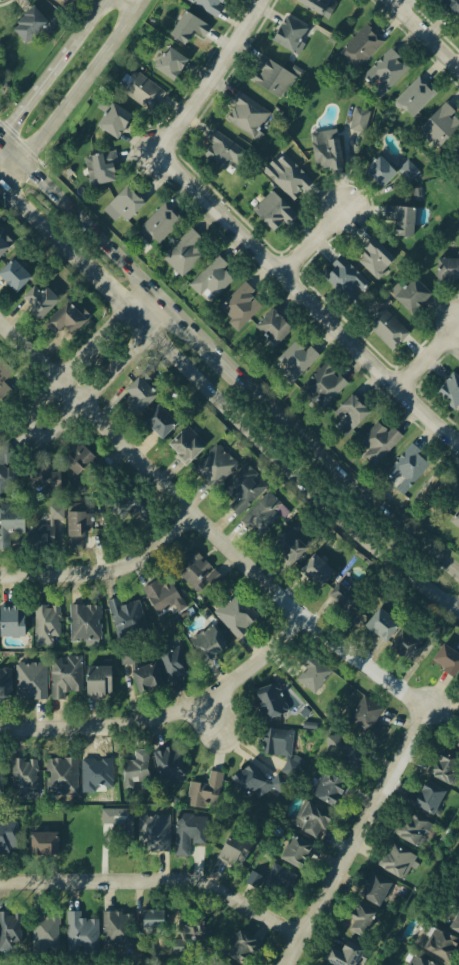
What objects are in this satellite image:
building: (209, 5)
building: (314, 5)
building: (451, 5)
building: (185, 24)
building: (25, 25)
road: (427, 31)
building: (287, 32)
building: (365, 47)
building: (164, 61)
road: (53, 70)
road: (216, 75)
building: (390, 76)
building: (272, 77)
road: (86, 83)
building: (141, 91)
building: (412, 98)
building: (248, 116)
building: (108, 118)
building: (357, 118)
building: (432, 124)
traffic signals: (0, 138)
road: (12, 149)
building: (224, 149)
building: (323, 149)
building: (455, 149)
traffic signals: (24, 161)
building: (374, 168)
building: (405, 169)
building: (96, 170)
road: (14, 171)
road: (2, 178)
building: (287, 178)
traffic signals: (5, 181)
building: (416, 191)
building: (124, 201)
building: (418, 203)
building: (269, 208)
building: (397, 219)
building: (156, 223)
road: (90, 228)
road: (318, 241)
building: (1, 246)
building: (180, 252)
building: (367, 256)
building: (444, 267)
building: (10, 273)
building: (211, 275)
building: (343, 277)
road: (311, 294)
building: (407, 294)
building: (33, 300)
building: (239, 303)
building: (60, 318)
road: (184, 323)
building: (267, 327)
building: (385, 329)
road: (431, 357)
building: (294, 358)
building: (3, 376)
road: (67, 384)
building: (323, 385)
building: (445, 387)
building: (133, 394)
road: (221, 405)
road: (98, 413)
building: (346, 413)
building: (153, 419)
building: (0, 429)
building: (377, 440)
building: (183, 442)
building: (73, 455)
building: (405, 458)
building: (211, 462)
road: (331, 466)
building: (4, 469)
building: (42, 473)
building: (238, 488)
building: (129, 510)
building: (264, 514)
building: (13, 520)
road: (187, 520)
building: (453, 522)
building: (76, 523)
building: (45, 529)
building: (284, 543)
road: (250, 562)
building: (189, 569)
building: (314, 570)
road: (95, 573)
building: (342, 592)
building: (164, 595)
building: (124, 614)
building: (235, 614)
building: (378, 618)
building: (10, 620)
building: (82, 621)
building: (45, 625)
building: (203, 641)
building: (407, 645)
building: (127, 659)
building: (168, 661)
road: (367, 661)
building: (443, 662)
building: (312, 672)
building: (63, 674)
building: (96, 676)
building: (139, 678)
building: (28, 681)
building: (6, 683)
building: (268, 700)
road: (170, 715)
road: (210, 718)
building: (367, 723)
building: (455, 737)
building: (281, 748)
building: (342, 755)
building: (159, 763)
building: (441, 766)
building: (136, 768)
building: (60, 776)
building: (21, 777)
building: (242, 777)
building: (0, 780)
building: (336, 792)
building: (198, 795)
building: (425, 795)
building: (314, 814)
building: (119, 819)
building: (194, 828)
building: (414, 829)
building: (150, 830)
road: (359, 835)
building: (8, 836)
building: (39, 837)
building: (230, 852)
building: (289, 854)
building: (396, 856)
road: (159, 878)
building: (276, 880)
building: (372, 888)
building: (458, 892)
building: (453, 915)
building: (361, 918)
building: (155, 919)
building: (80, 924)
building: (116, 924)
building: (195, 924)
building: (44, 927)
building: (9, 932)
building: (240, 939)
building: (436, 942)
building: (339, 952)
building: (412, 961)
building: (222, 963)
building: (308, 964)

